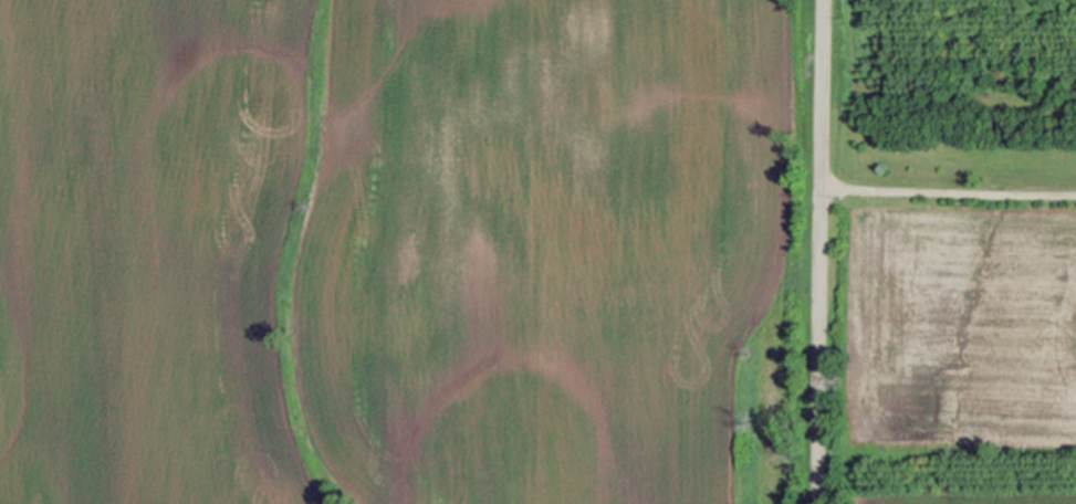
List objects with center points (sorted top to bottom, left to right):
road: (951, 179)
road: (825, 251)

